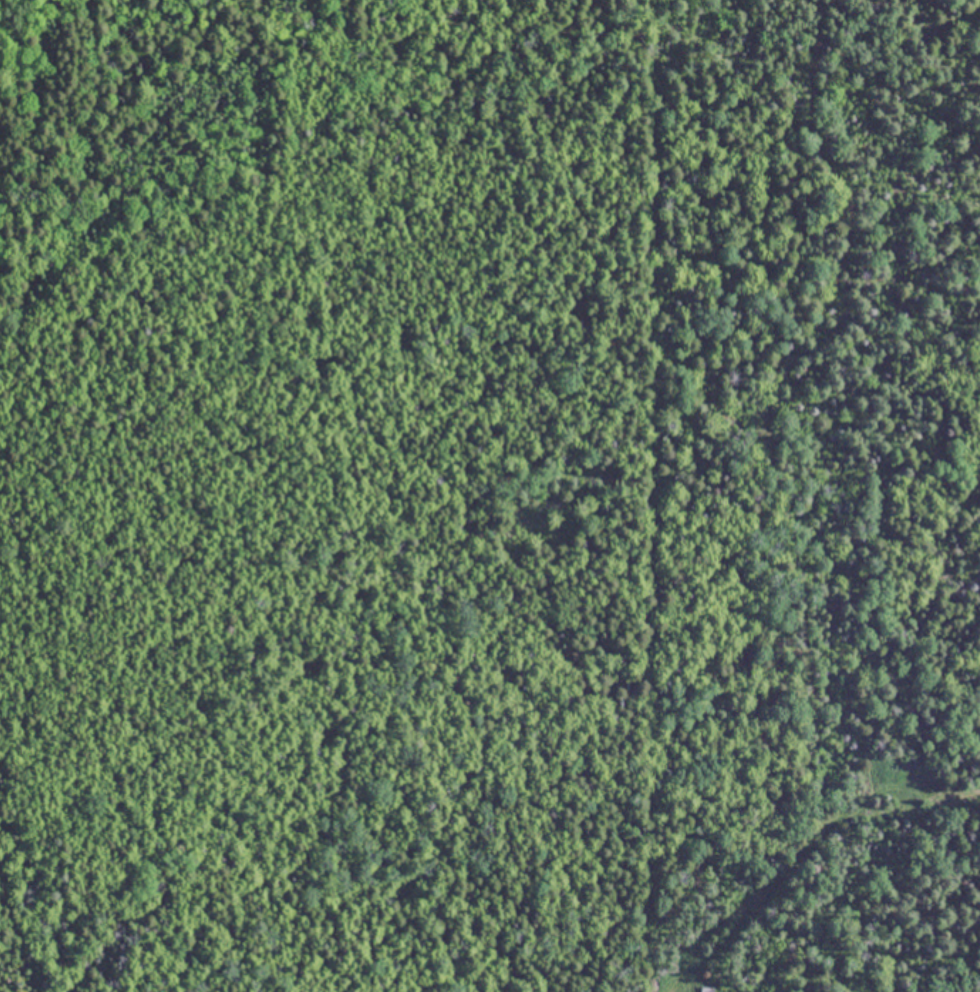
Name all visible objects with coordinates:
building: (708, 989)

